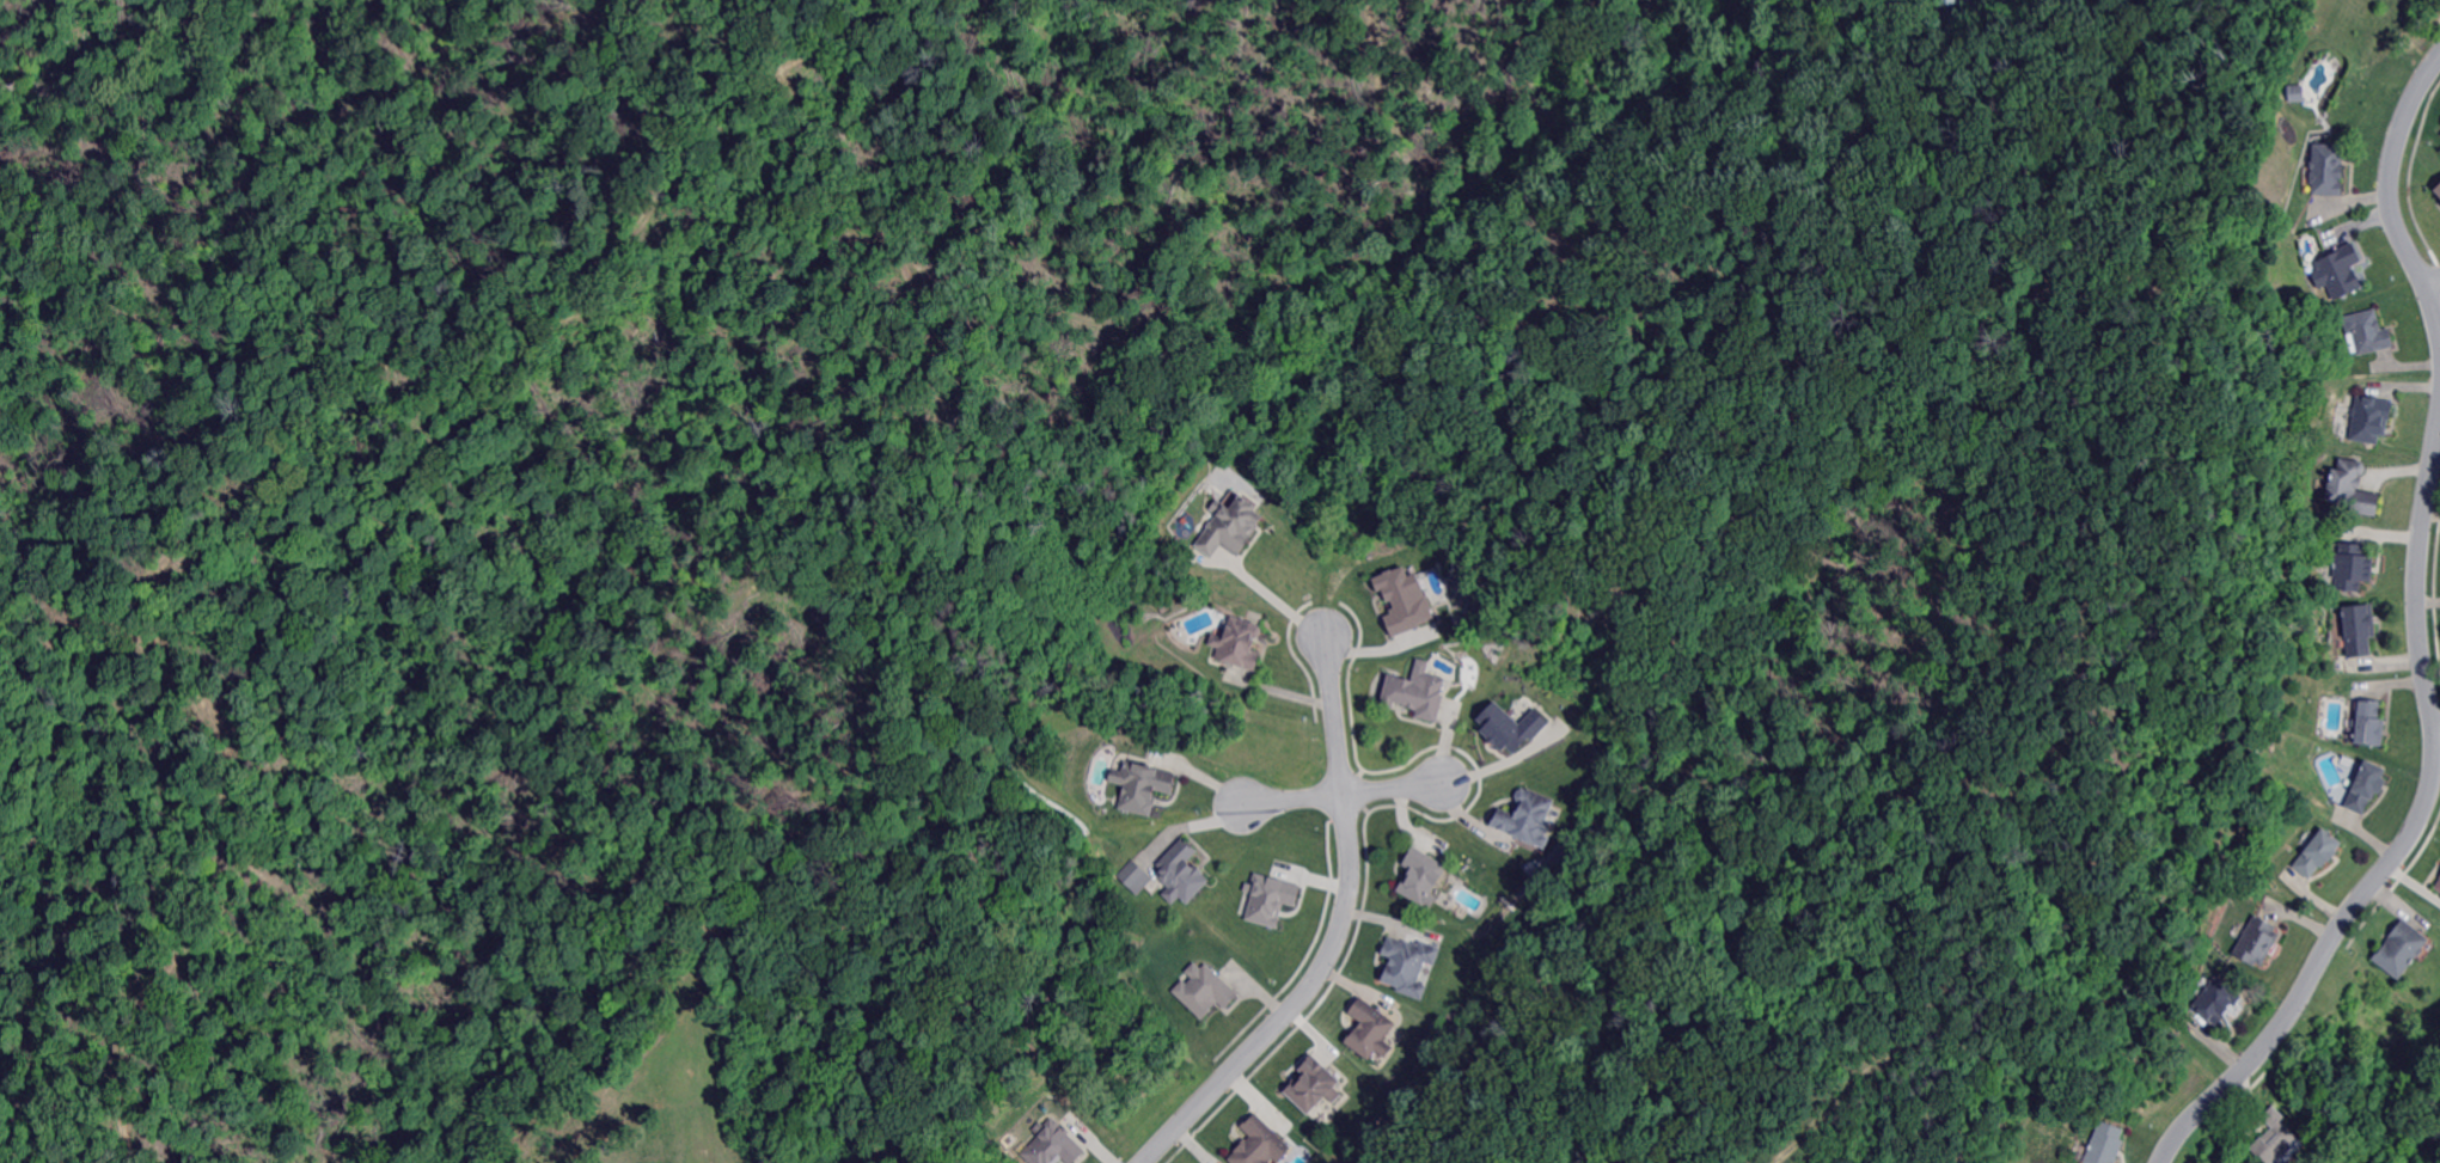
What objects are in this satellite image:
building: (1945, 1)
building: (2323, 169)
road: (2398, 178)
building: (2438, 189)
building: (2336, 270)
road: (2438, 280)
building: (2366, 332)
building: (2368, 420)
building: (2346, 489)
building: (1233, 526)
building: (2350, 567)
road: (1274, 598)
building: (1404, 598)
building: (1162, 607)
building: (2356, 629)
building: (1240, 643)
building: (1418, 692)
building: (2368, 723)
building: (1508, 726)
road: (2438, 727)
building: (1142, 785)
building: (2365, 788)
road: (1343, 795)
building: (1094, 796)
building: (1557, 814)
building: (1529, 816)
road: (2418, 839)
building: (2317, 853)
building: (1182, 873)
building: (1132, 875)
building: (1423, 875)
building: (2439, 876)
building: (2438, 886)
building: (1267, 896)
road: (1334, 932)
building: (2252, 942)
building: (2399, 949)
building: (1409, 965)
building: (1206, 990)
building: (2215, 999)
building: (1369, 1030)
building: (1315, 1084)
park: (2399, 1124)
road: (2255, 1127)
building: (2274, 1137)
building: (1048, 1144)
building: (1259, 1144)
building: (2104, 1144)

